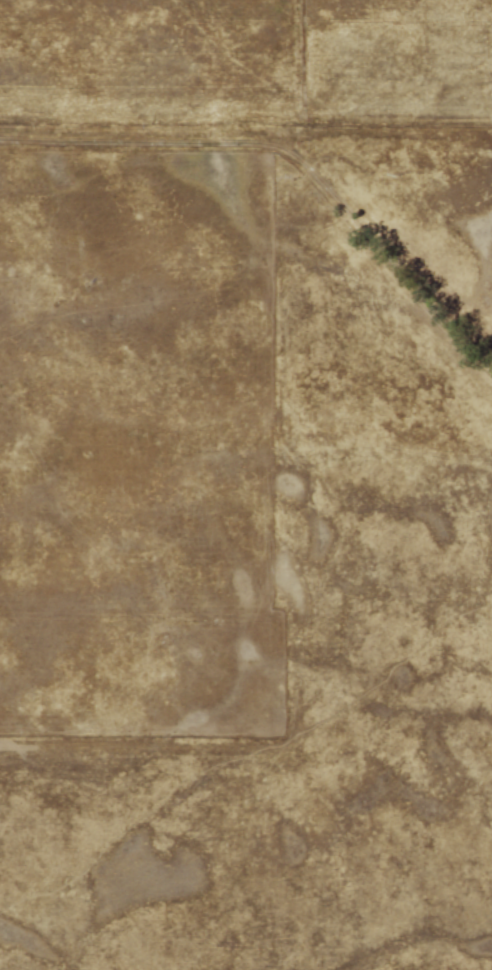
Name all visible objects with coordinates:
road: (290, 155)

